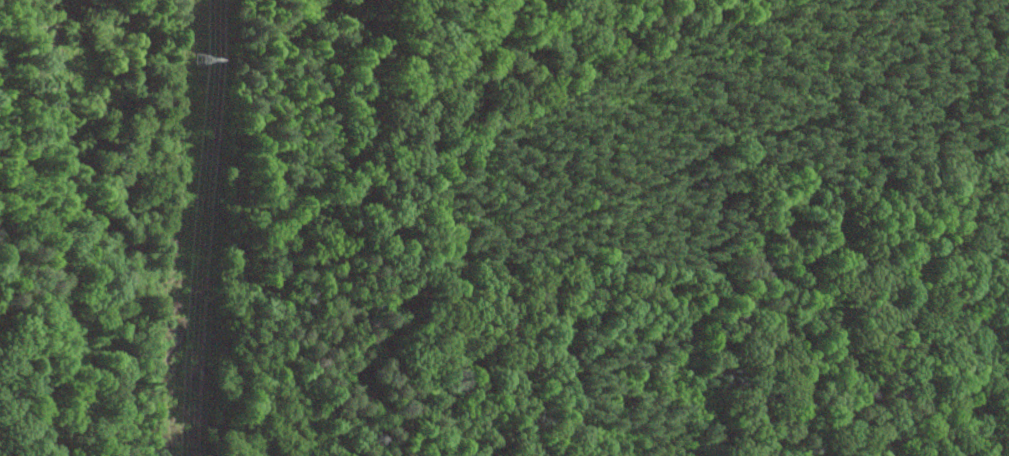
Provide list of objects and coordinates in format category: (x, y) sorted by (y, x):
power tower: (199, 62)

